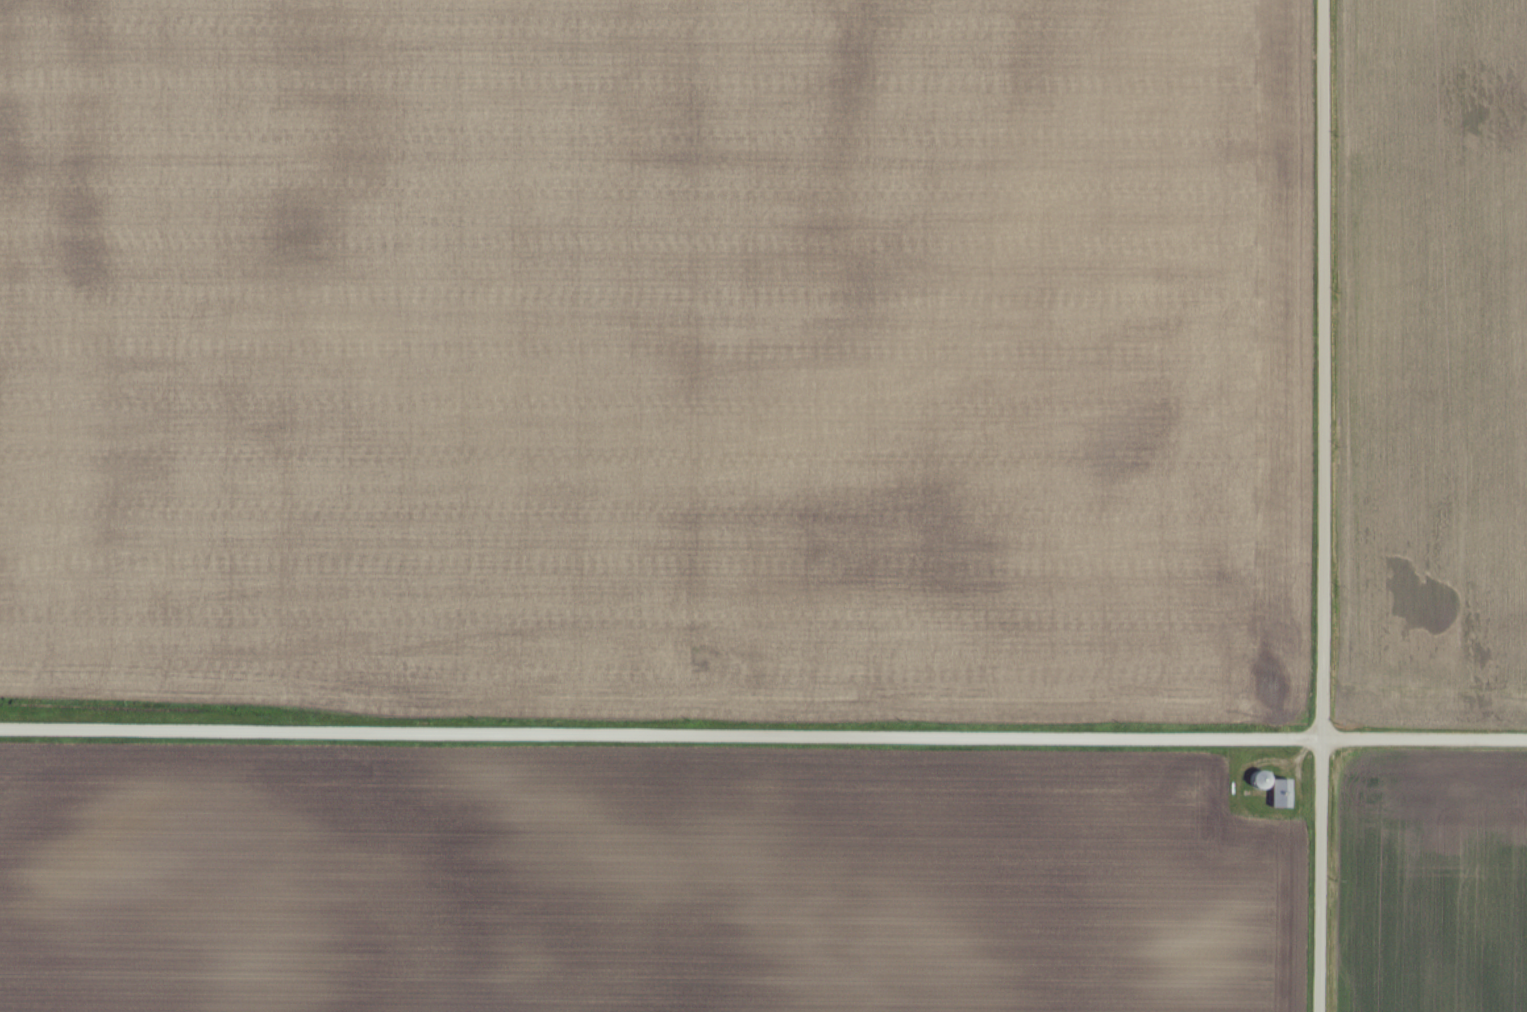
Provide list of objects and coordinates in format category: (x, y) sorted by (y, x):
road: (1317, 370)
road: (763, 736)
road: (1318, 876)

